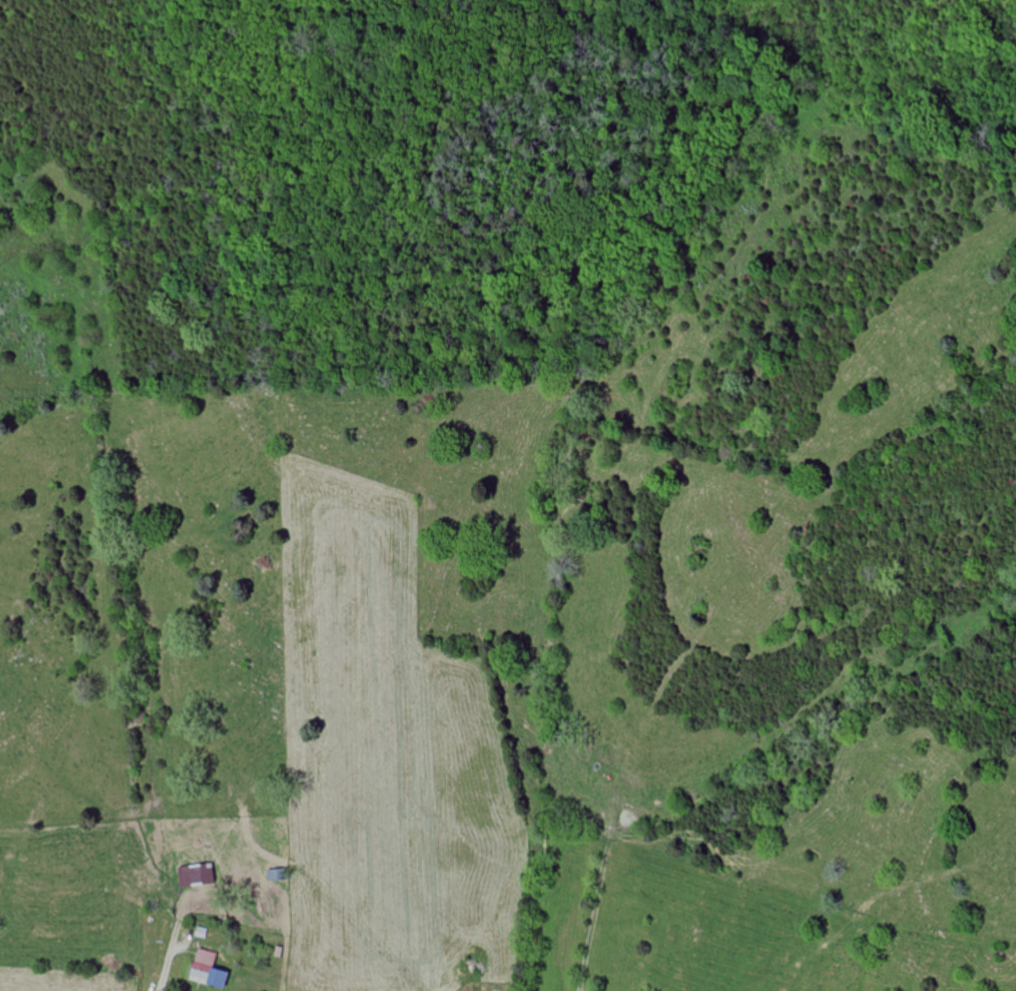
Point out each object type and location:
building: (197, 876)
road: (165, 957)
building: (209, 971)

